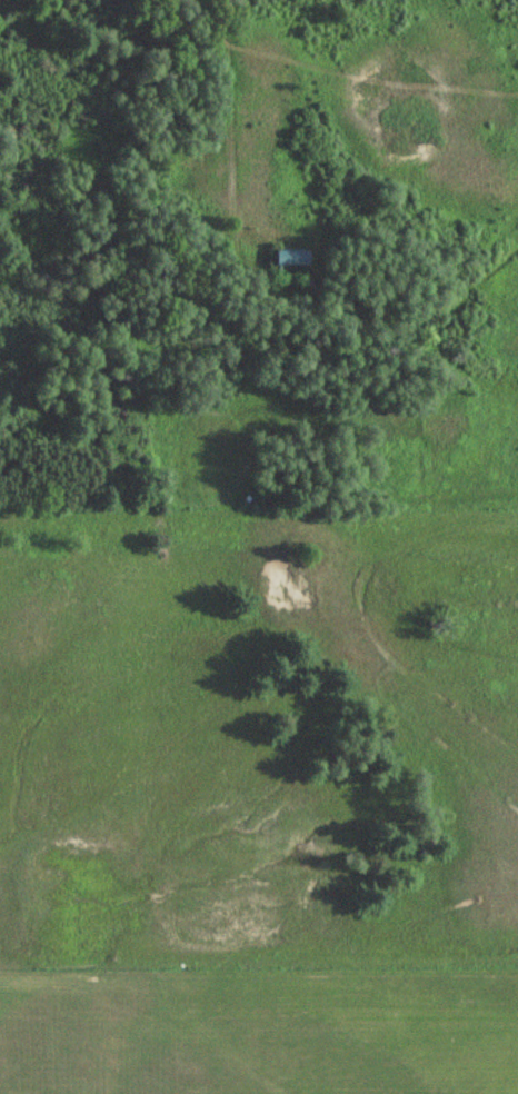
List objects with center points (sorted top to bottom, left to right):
building: (286, 258)

